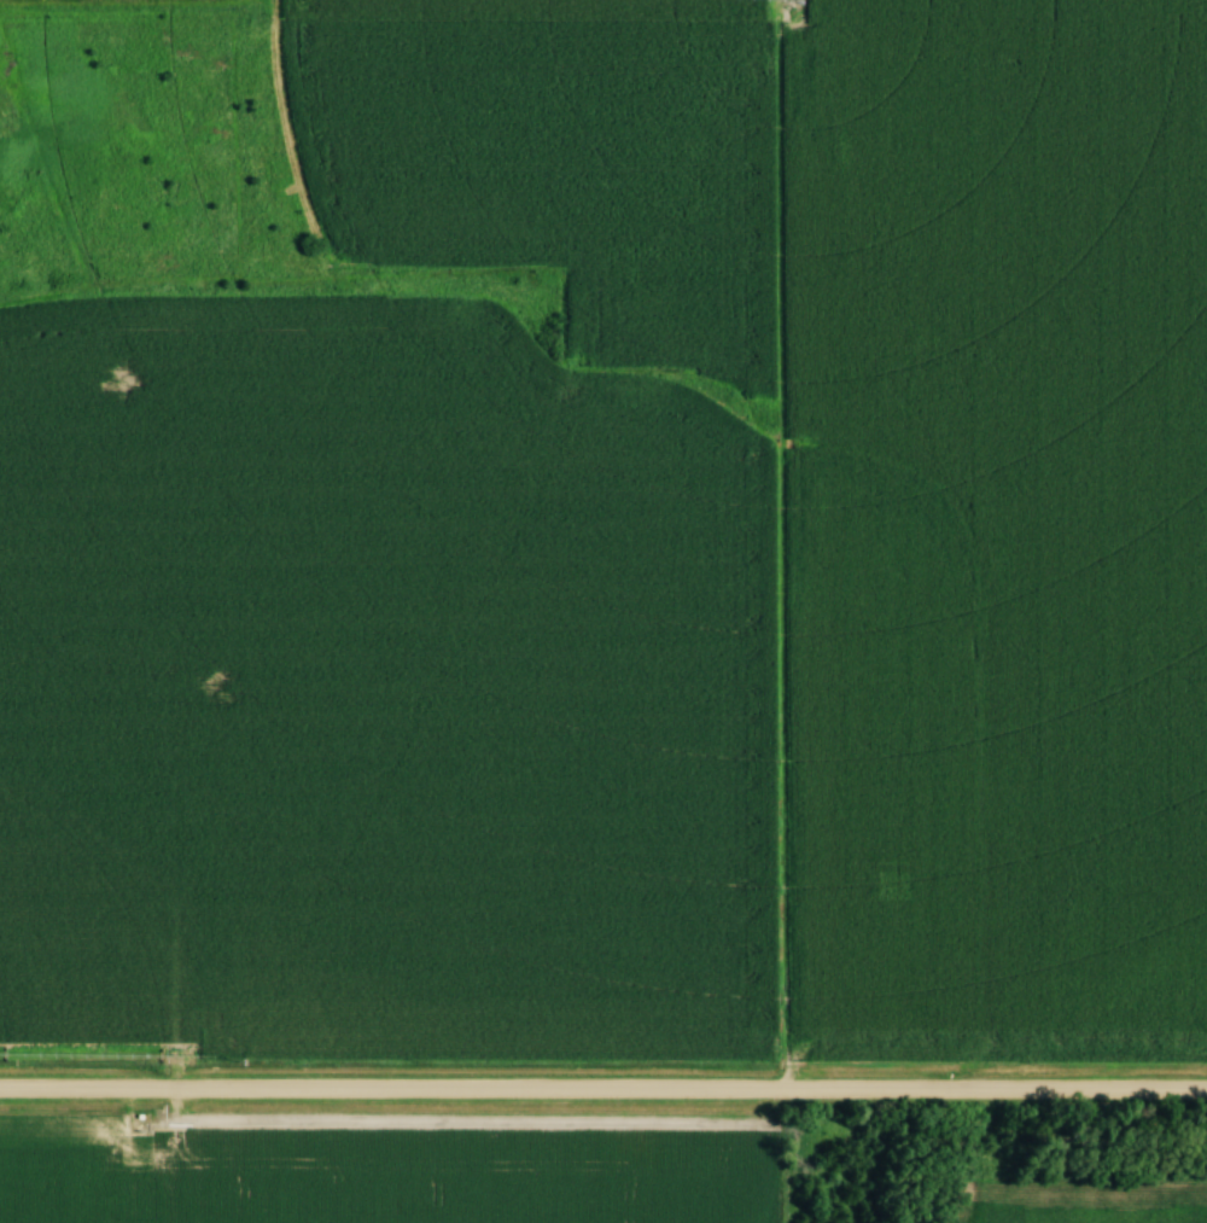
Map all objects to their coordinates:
crop: (990, 526)
road: (603, 1095)

